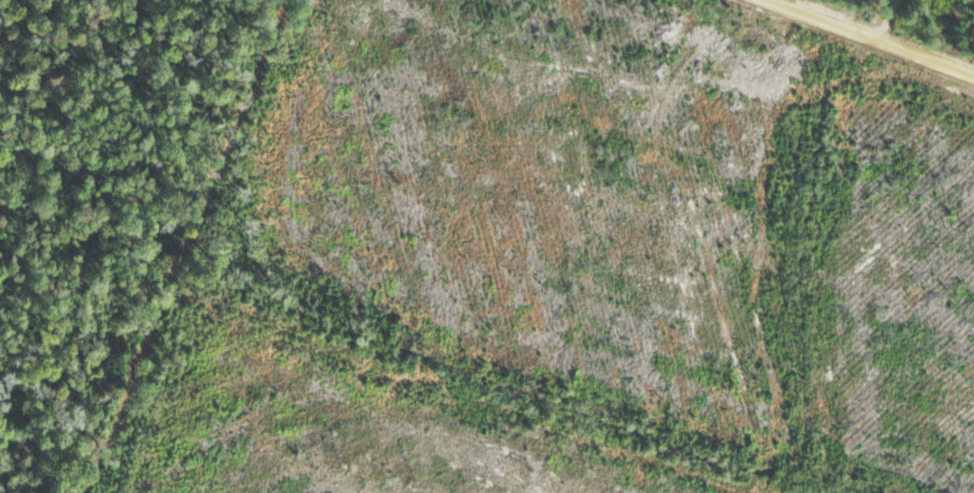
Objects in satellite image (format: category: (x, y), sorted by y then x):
road: (955, 9)

